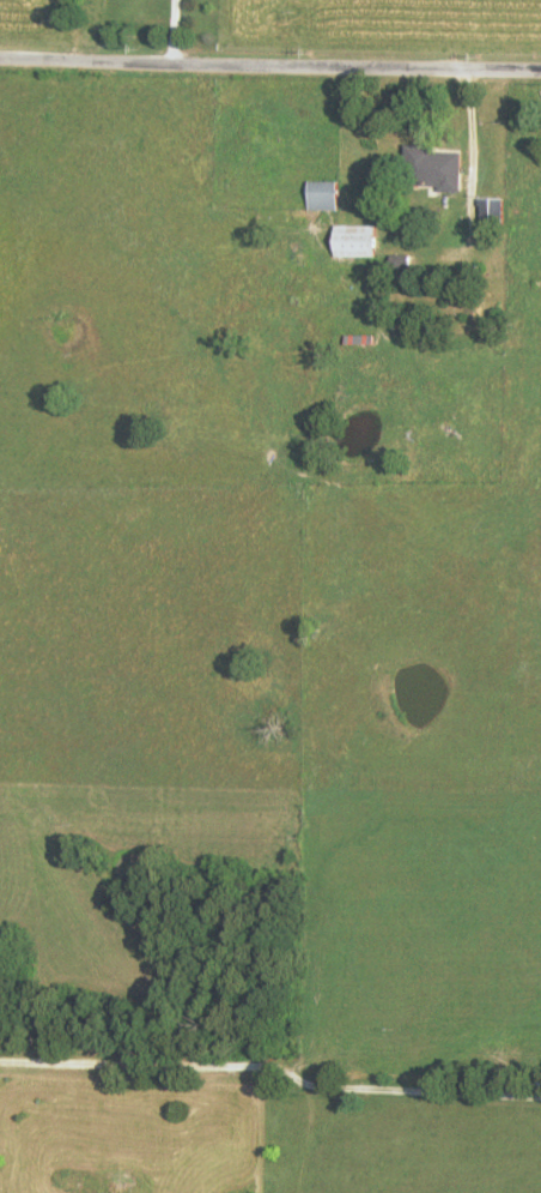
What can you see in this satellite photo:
road: (171, 31)
road: (270, 66)
road: (467, 138)
building: (428, 168)
building: (317, 195)
building: (348, 241)
road: (272, 1073)

